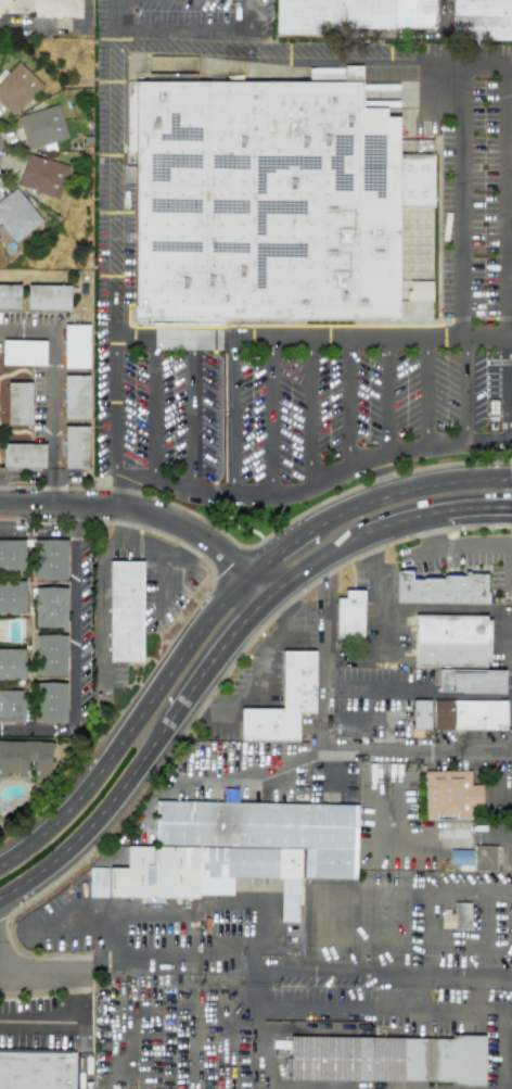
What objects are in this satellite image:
building: (40, 8)
building: (356, 15)
building: (482, 18)
road: (200, 39)
road: (376, 55)
road: (468, 68)
road: (505, 68)
building: (317, 73)
building: (17, 88)
building: (41, 127)
road: (114, 169)
building: (41, 175)
road: (465, 198)
road: (505, 198)
building: (278, 205)
parking lot: (478, 206)
building: (16, 215)
building: (9, 296)
building: (47, 297)
road: (505, 326)
road: (464, 327)
road: (311, 339)
building: (75, 346)
building: (22, 353)
road: (504, 387)
road: (465, 389)
road: (425, 392)
road: (53, 393)
building: (75, 396)
road: (386, 396)
building: (17, 403)
road: (346, 404)
road: (112, 406)
parking lot: (302, 409)
road: (151, 410)
road: (307, 411)
road: (190, 416)
road: (231, 417)
road: (270, 417)
road: (485, 438)
road: (446, 443)
building: (75, 447)
road: (406, 451)
building: (22, 455)
road: (366, 461)
road: (138, 477)
road: (327, 477)
road: (125, 485)
road: (170, 485)
road: (289, 490)
road: (409, 490)
road: (210, 493)
road: (249, 494)
road: (477, 509)
road: (136, 511)
road: (404, 523)
road: (438, 533)
road: (284, 549)
road: (440, 552)
building: (11, 554)
building: (49, 559)
road: (321, 564)
road: (169, 574)
road: (268, 582)
building: (438, 588)
road: (100, 593)
building: (11, 596)
building: (49, 607)
road: (451, 609)
building: (124, 610)
building: (348, 615)
building: (450, 640)
road: (76, 653)
building: (49, 654)
road: (222, 654)
road: (358, 659)
building: (11, 664)
road: (253, 674)
building: (470, 681)
building: (49, 701)
road: (327, 702)
building: (11, 705)
building: (283, 706)
building: (420, 714)
building: (469, 714)
road: (131, 724)
road: (418, 749)
building: (23, 757)
road: (294, 761)
building: (449, 795)
road: (97, 822)
road: (447, 833)
building: (233, 850)
building: (459, 857)
building: (483, 857)
road: (494, 894)
road: (195, 910)
building: (457, 917)
road: (107, 936)
road: (21, 965)
road: (76, 970)
road: (308, 974)
road: (23, 976)
road: (355, 1009)
road: (496, 1011)
road: (67, 1020)
road: (259, 1029)
road: (175, 1055)
building: (383, 1058)
building: (38, 1071)
road: (118, 1076)

